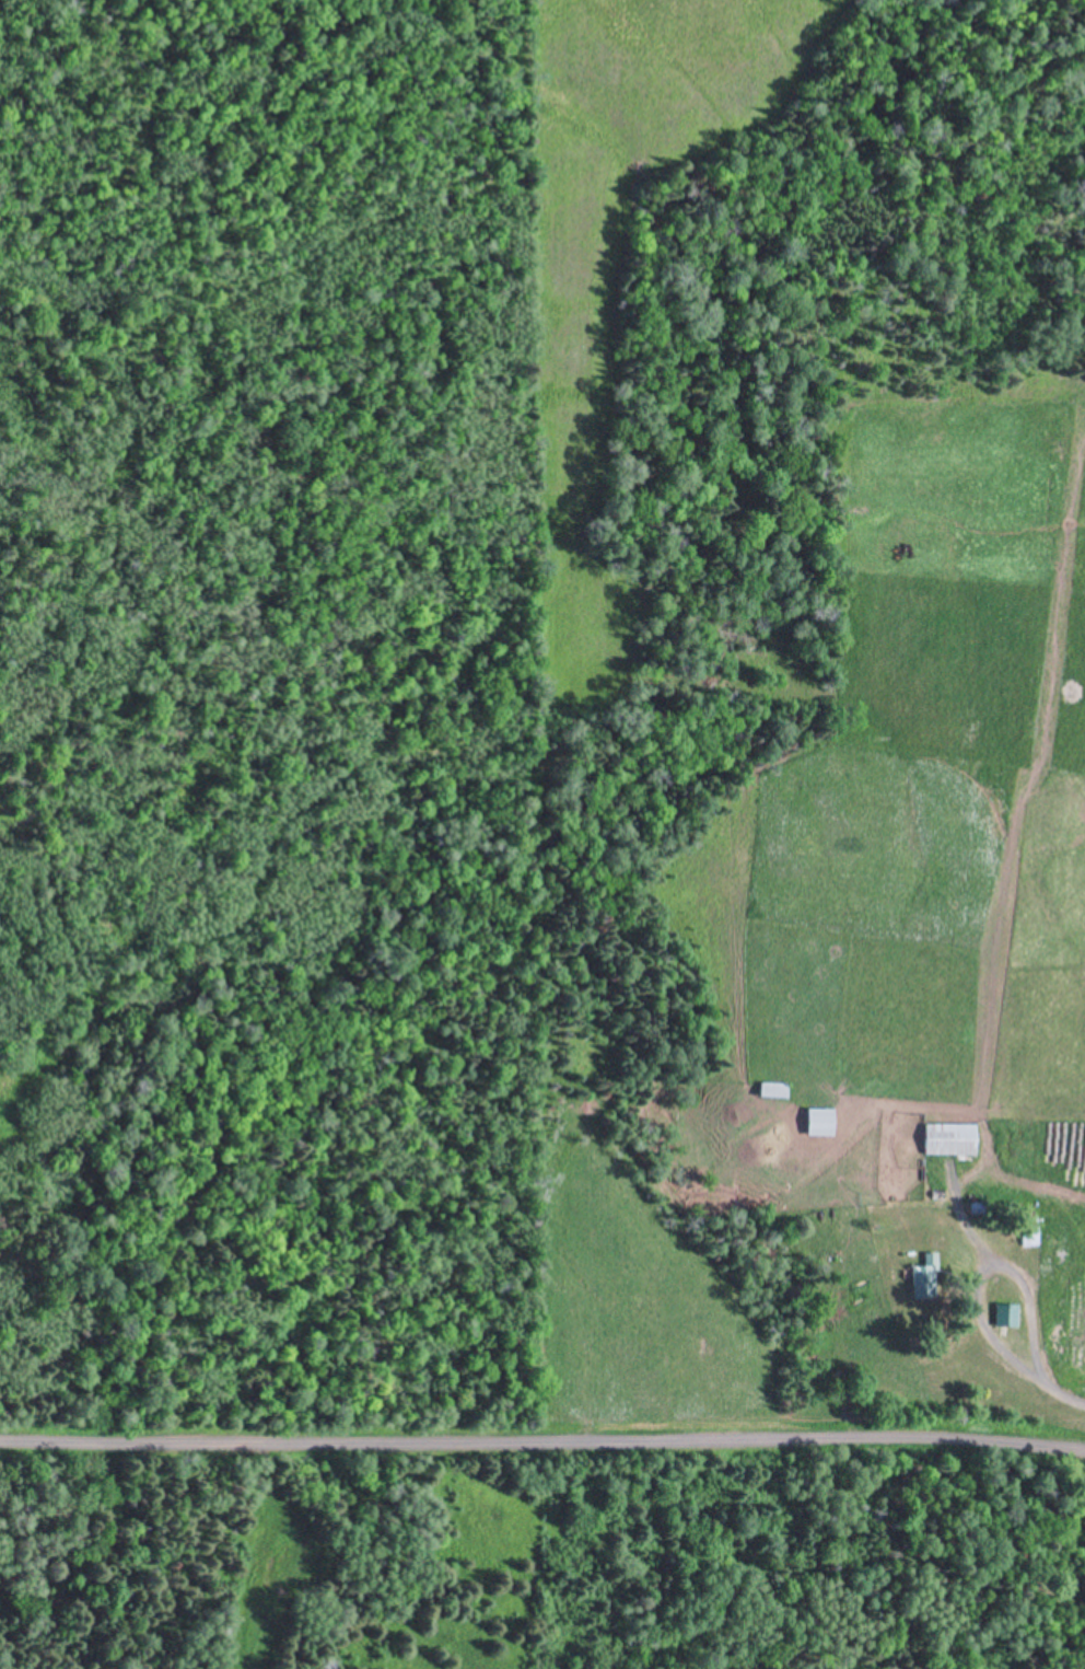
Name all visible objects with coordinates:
building: (775, 1092)
building: (821, 1123)
building: (952, 1140)
building: (1030, 1241)
building: (925, 1279)
building: (1007, 1317)
road: (541, 1450)

